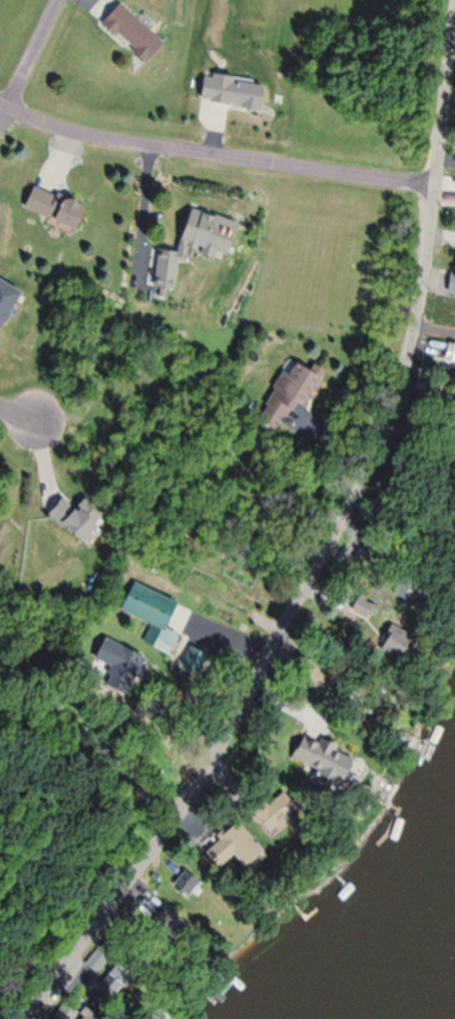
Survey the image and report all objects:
building: (130, 36)
road: (32, 68)
building: (230, 95)
road: (214, 167)
building: (53, 210)
road: (141, 216)
building: (193, 247)
building: (6, 302)
building: (286, 399)
building: (452, 415)
road: (16, 418)
building: (74, 521)
road: (328, 550)
building: (307, 677)
building: (333, 769)
building: (272, 817)
building: (231, 850)
river: (424, 961)
building: (96, 964)
building: (64, 1014)

